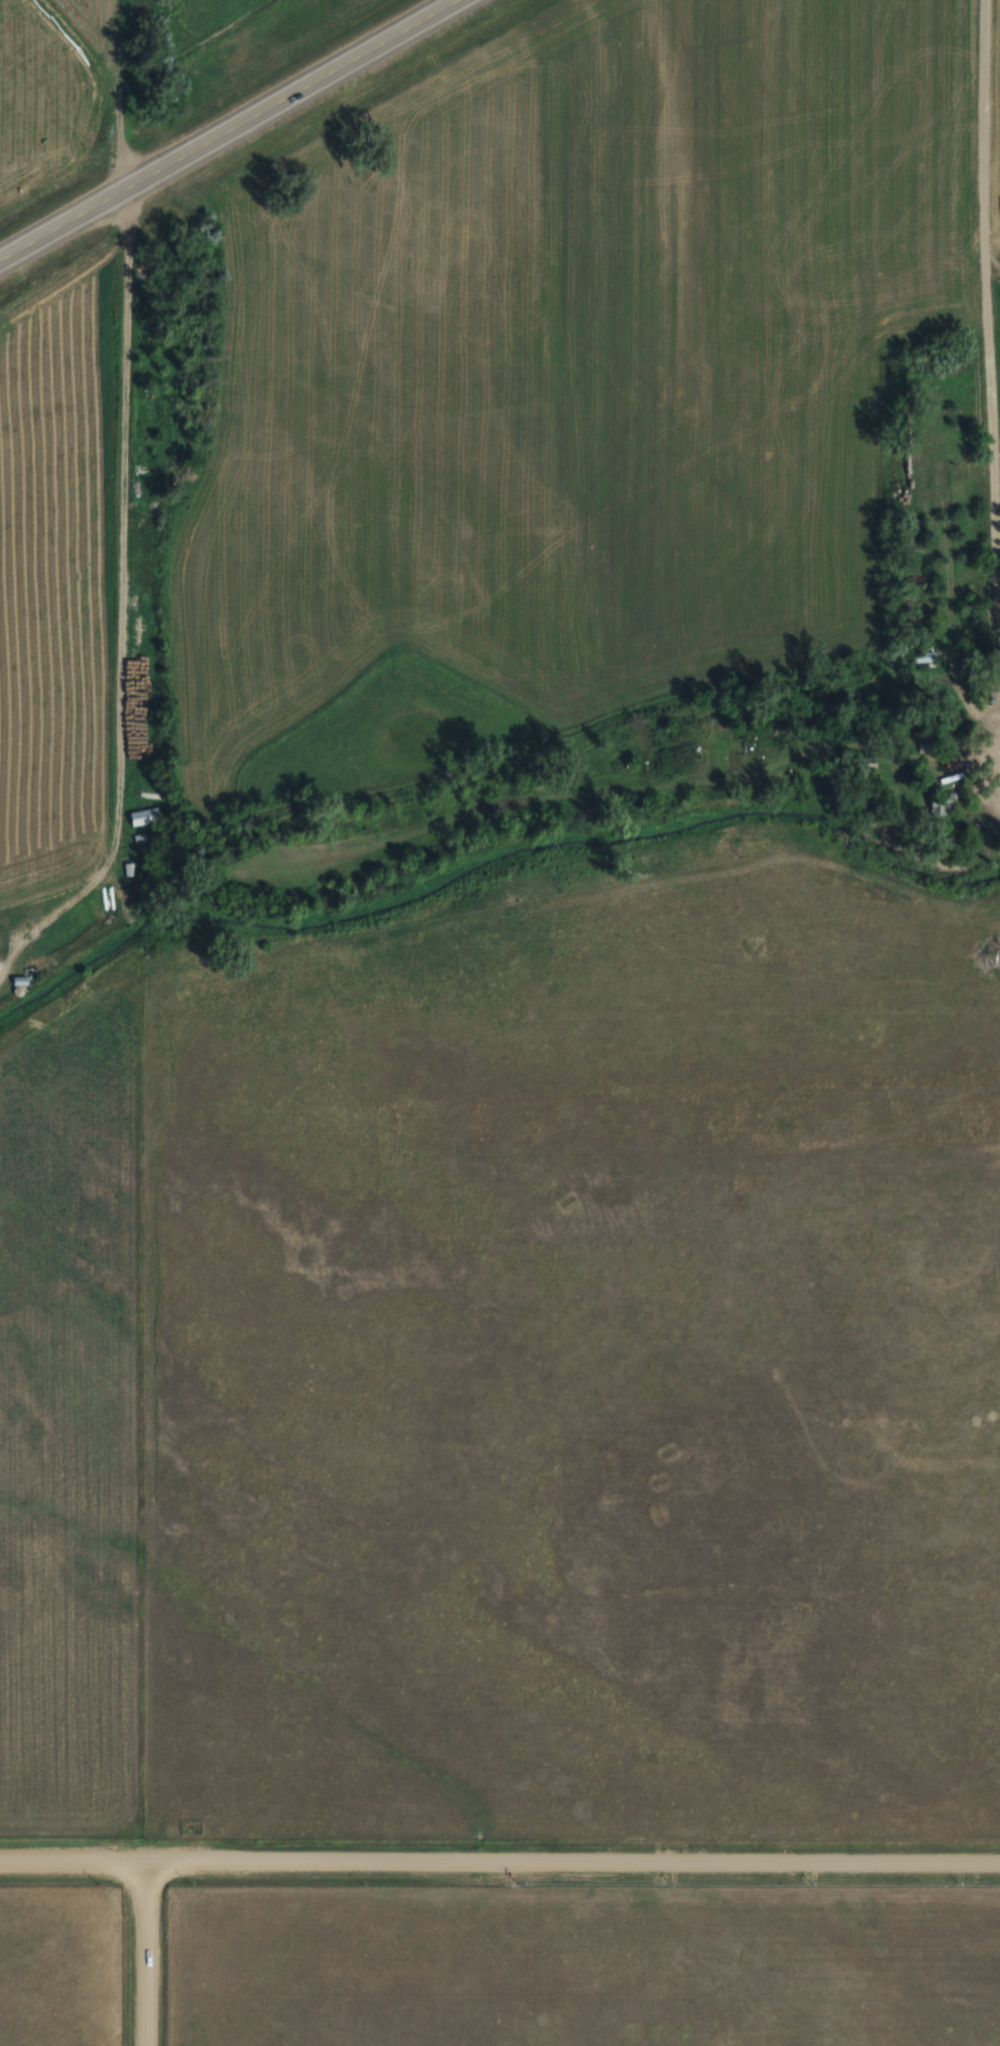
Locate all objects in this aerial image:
road: (229, 130)
railway: (299, 176)
road: (984, 304)
road: (121, 605)
building: (924, 656)
building: (925, 746)
building: (870, 763)
building: (944, 806)
building: (146, 818)
building: (21, 983)
road: (569, 1864)
road: (69, 1865)
road: (139, 1955)

